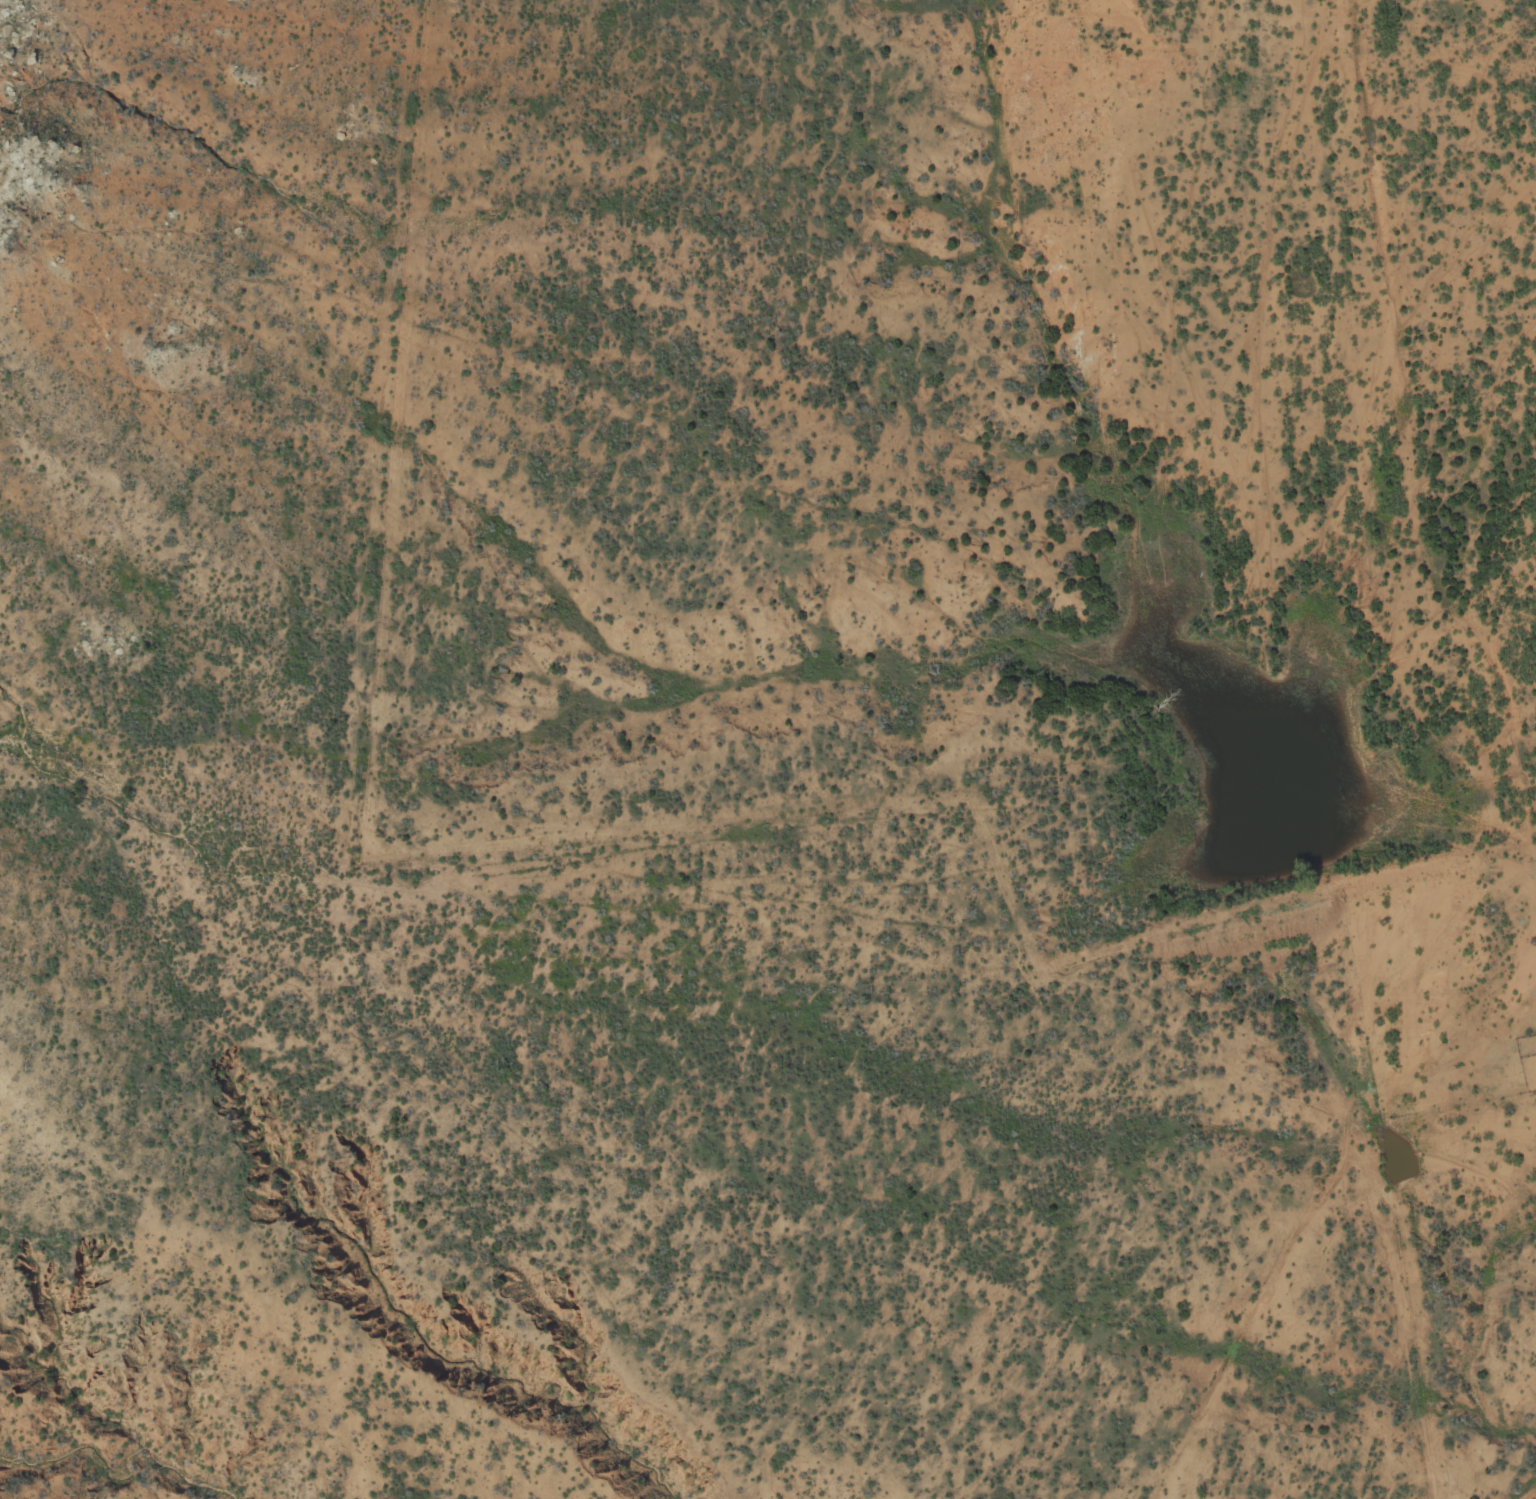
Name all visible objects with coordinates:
road: (1431, 154)
road: (1362, 512)

